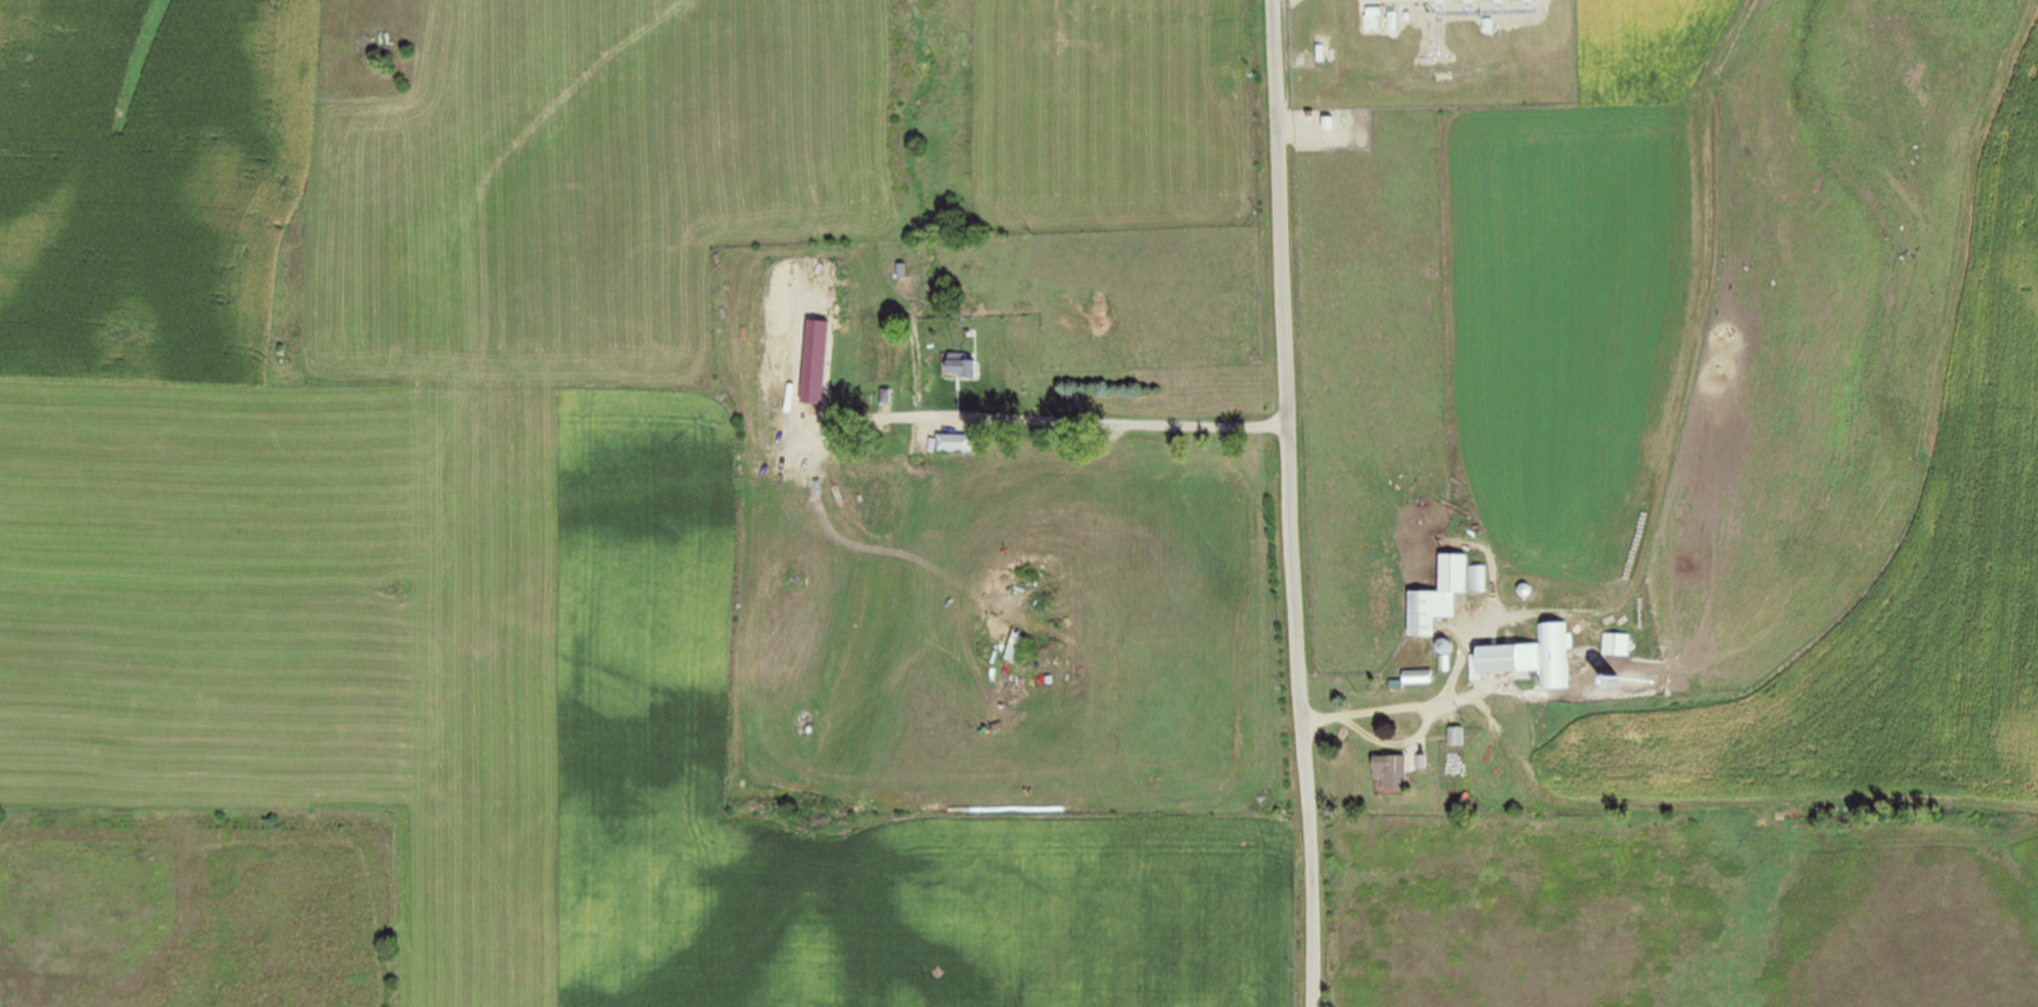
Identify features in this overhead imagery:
building: (1529, 0)
building: (1440, 1)
building: (1470, 1)
road: (1694, 331)
building: (963, 365)
building: (886, 396)
building: (822, 412)
road: (1027, 418)
road: (1919, 419)
building: (951, 443)
road: (1293, 503)
building: (1476, 578)
building: (1436, 597)
building: (1616, 644)
building: (1019, 648)
building: (1533, 658)
building: (1442, 663)
building: (1417, 676)
building: (1394, 684)
road: (1449, 685)
road: (1418, 733)
building: (1455, 736)
building: (1420, 762)
building: (1390, 771)

